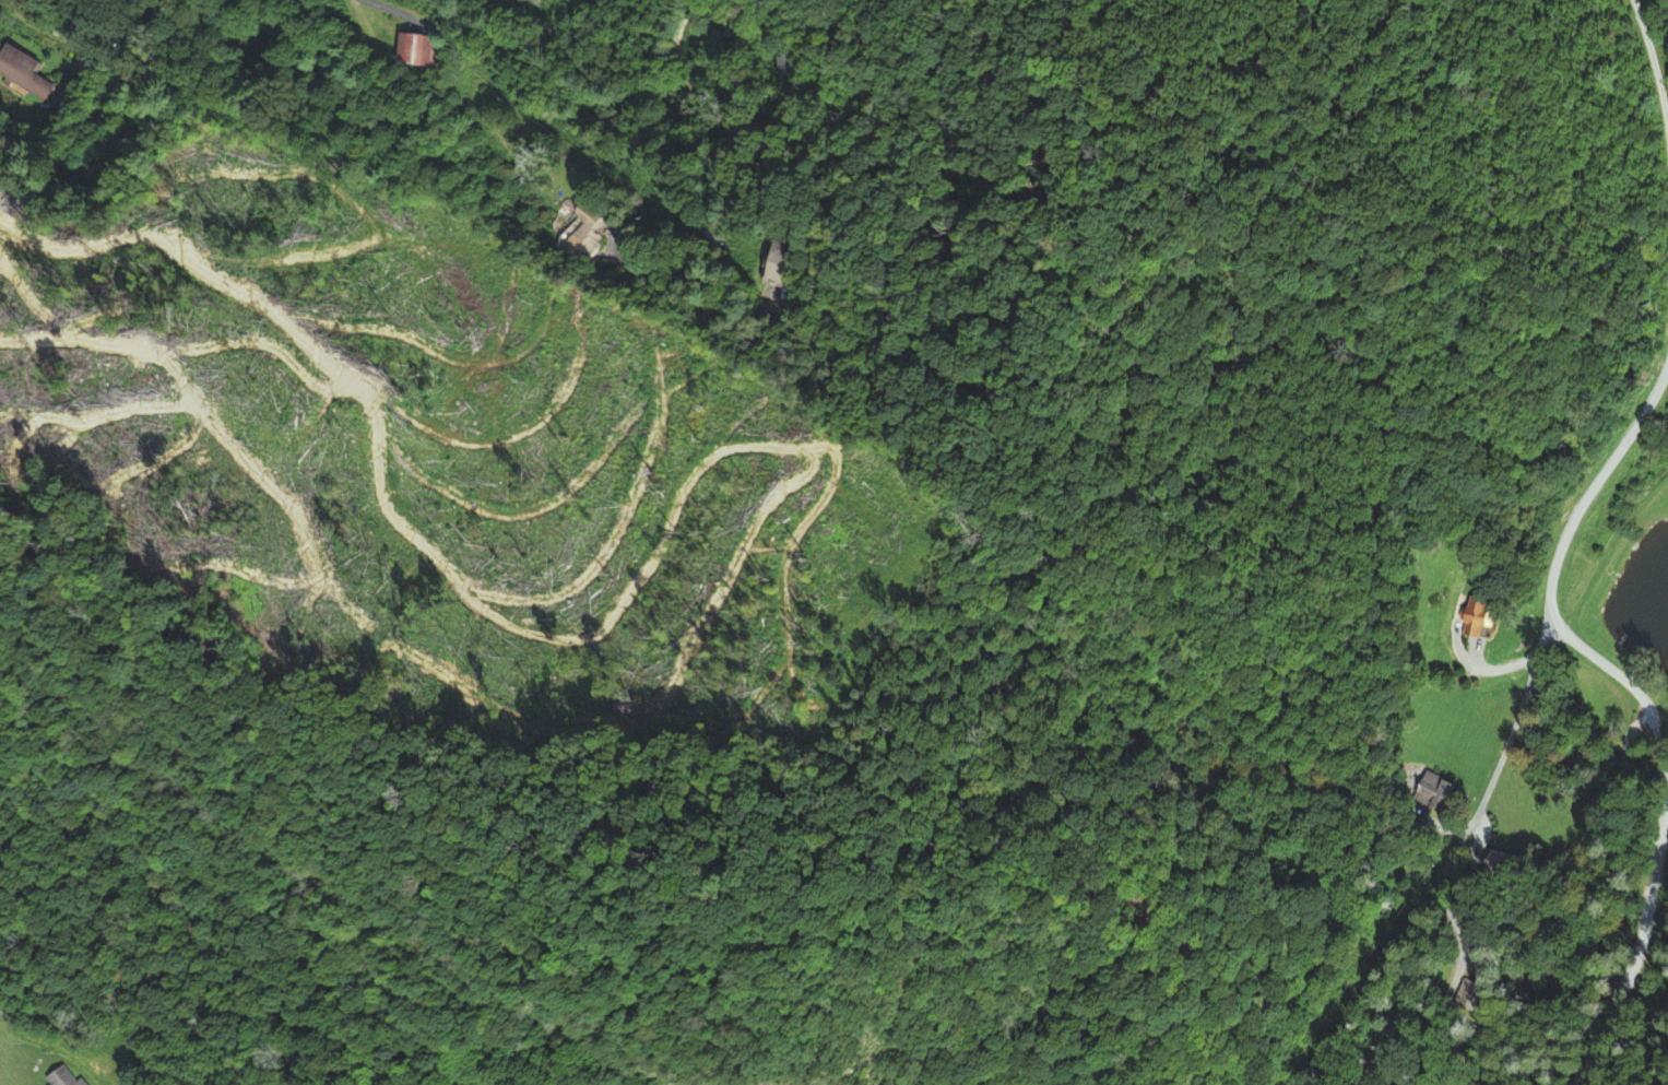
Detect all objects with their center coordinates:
road: (48, 28)
building: (405, 50)
building: (26, 70)
road: (75, 75)
road: (583, 91)
road: (722, 151)
building: (576, 236)
building: (768, 266)
road: (1551, 575)
building: (1476, 615)
road: (1490, 780)
building: (1435, 790)
road: (1640, 954)
building: (67, 1076)

